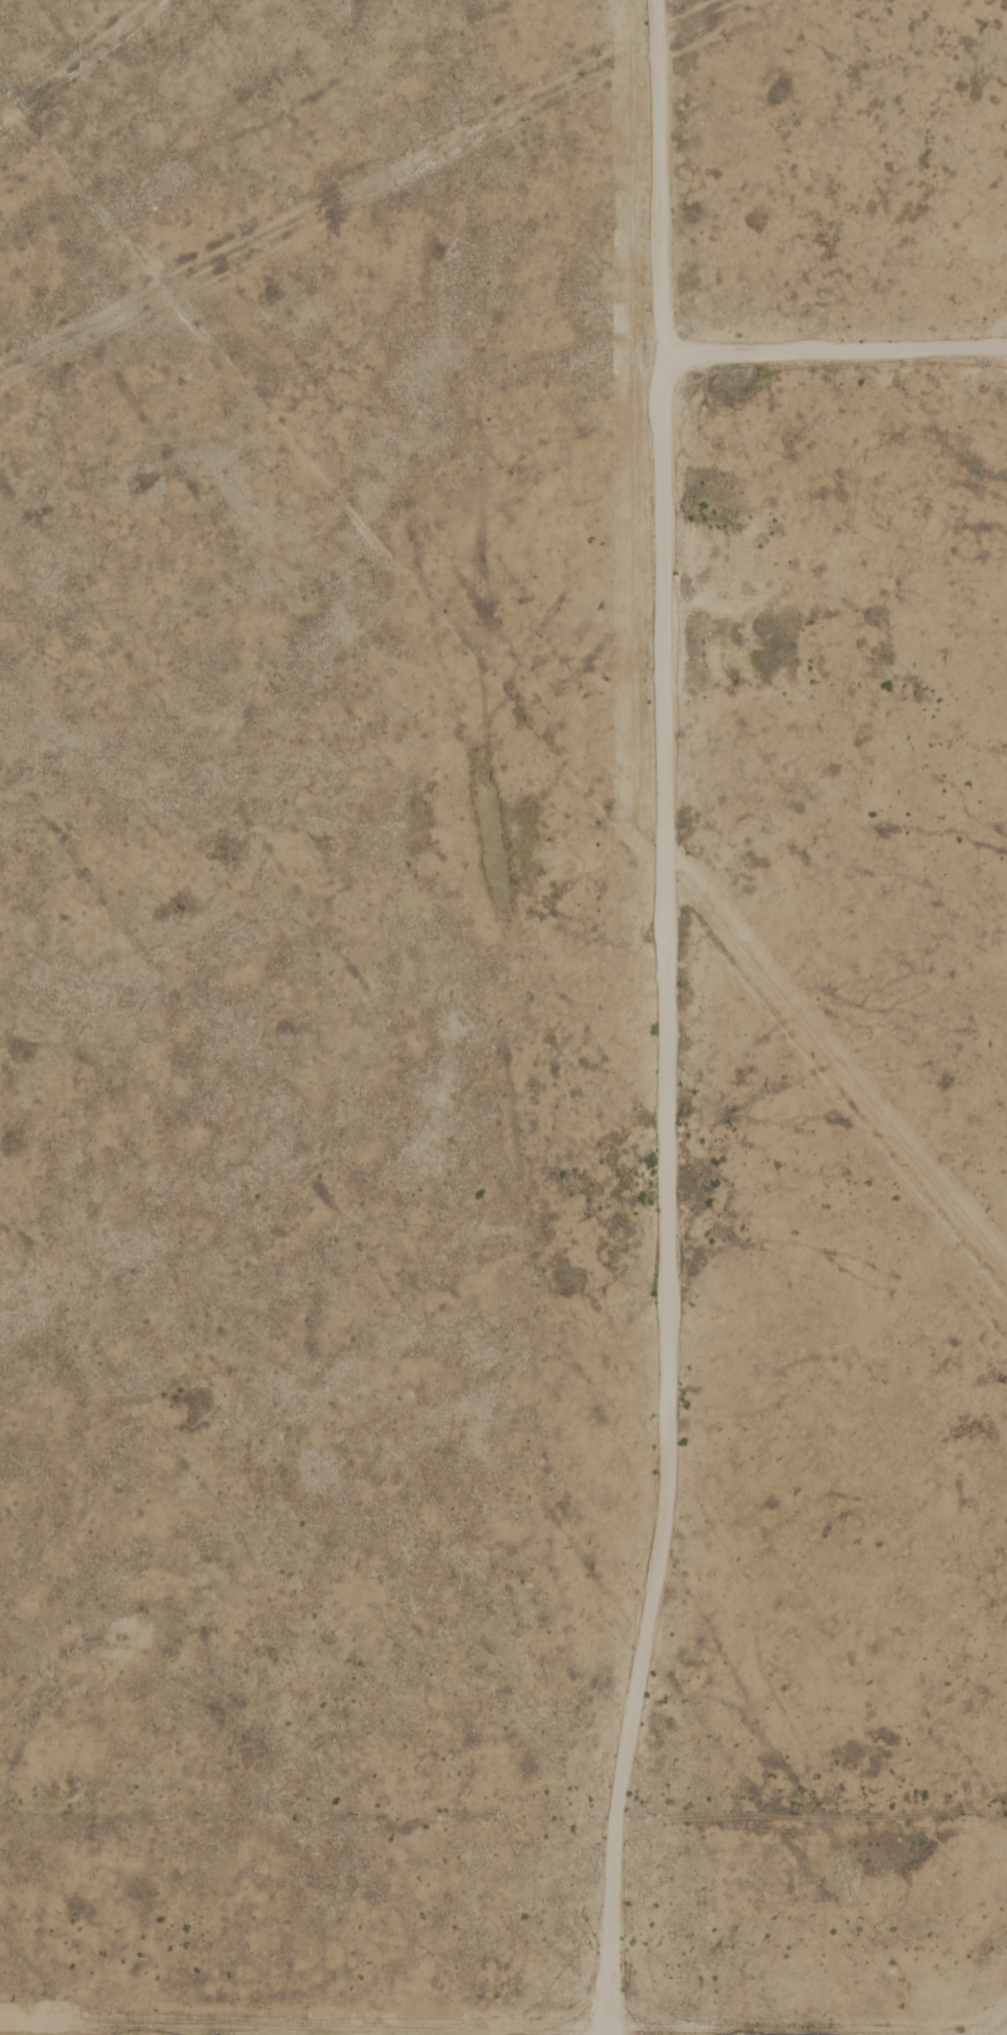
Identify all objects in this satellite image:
road: (659, 181)
road: (675, 1030)

